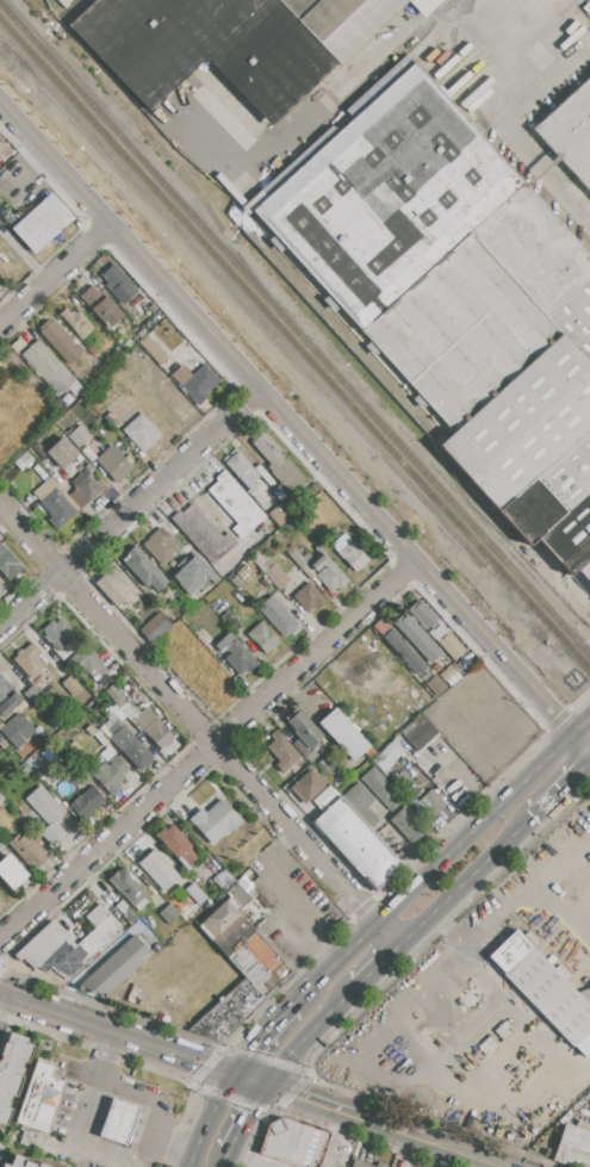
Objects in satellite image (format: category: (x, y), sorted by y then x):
railway: (49, 20)
railway: (398, 51)
building: (243, 67)
road: (549, 81)
railway: (129, 113)
road: (508, 114)
railway: (138, 118)
building: (571, 132)
railway: (491, 134)
building: (41, 223)
road: (52, 271)
building: (113, 277)
railway: (298, 284)
building: (457, 298)
building: (103, 305)
building: (147, 312)
building: (76, 322)
railway: (296, 329)
building: (119, 335)
building: (138, 335)
railway: (273, 335)
building: (60, 341)
railway: (294, 347)
building: (153, 348)
building: (50, 368)
building: (195, 383)
building: (112, 420)
road: (294, 427)
building: (142, 433)
building: (79, 436)
building: (62, 453)
building: (46, 458)
building: (278, 463)
building: (114, 464)
building: (242, 470)
building: (82, 490)
building: (279, 492)
building: (236, 504)
road: (129, 507)
building: (57, 508)
building: (279, 514)
building: (271, 527)
building: (203, 533)
building: (162, 544)
building: (350, 552)
building: (7, 564)
building: (302, 565)
building: (144, 570)
building: (271, 571)
building: (190, 573)
building: (329, 573)
building: (236, 582)
building: (116, 589)
building: (309, 597)
building: (278, 615)
building: (230, 622)
building: (155, 628)
building: (436, 631)
building: (58, 632)
building: (262, 638)
building: (417, 638)
building: (404, 651)
building: (236, 654)
building: (29, 662)
building: (92, 664)
building: (72, 685)
building: (32, 694)
building: (8, 700)
building: (147, 724)
road: (197, 727)
building: (17, 730)
building: (303, 733)
building: (344, 734)
building: (421, 734)
building: (131, 747)
road: (205, 747)
building: (281, 751)
building: (387, 756)
building: (418, 759)
building: (429, 770)
building: (108, 775)
building: (442, 781)
road: (473, 786)
building: (306, 787)
building: (381, 789)
road: (554, 790)
building: (1, 799)
building: (322, 800)
building: (86, 802)
building: (360, 803)
building: (430, 805)
building: (46, 814)
road: (482, 818)
building: (216, 821)
building: (409, 824)
building: (358, 842)
building: (176, 844)
building: (27, 850)
building: (159, 870)
building: (11, 871)
building: (224, 880)
road: (530, 883)
road: (458, 884)
building: (129, 888)
building: (195, 893)
building: (1, 901)
building: (120, 907)
building: (192, 913)
building: (169, 914)
building: (97, 915)
building: (129, 918)
building: (218, 920)
road: (297, 920)
road: (452, 924)
building: (45, 948)
building: (86, 948)
building: (510, 951)
building: (254, 957)
road: (337, 958)
road: (373, 967)
building: (116, 968)
building: (82, 973)
building: (552, 995)
road: (296, 1001)
road: (4, 1006)
road: (82, 1019)
road: (305, 1033)
road: (261, 1038)
traffic signals: (248, 1053)
road: (200, 1060)
road: (447, 1060)
traffic signals: (205, 1062)
building: (12, 1073)
road: (250, 1079)
road: (95, 1084)
building: (380, 1087)
traffic signals: (296, 1094)
road: (302, 1095)
building: (39, 1098)
traffic signals: (253, 1110)
road: (206, 1117)
road: (247, 1117)
building: (120, 1122)
road: (155, 1128)
road: (175, 1136)
road: (416, 1137)
road: (334, 1138)
building: (294, 1143)
building: (572, 1146)
road: (224, 1159)
road: (250, 1159)
building: (21, 1162)
building: (360, 1165)
building: (380, 1165)
building: (6, 1166)
building: (44, 1166)

